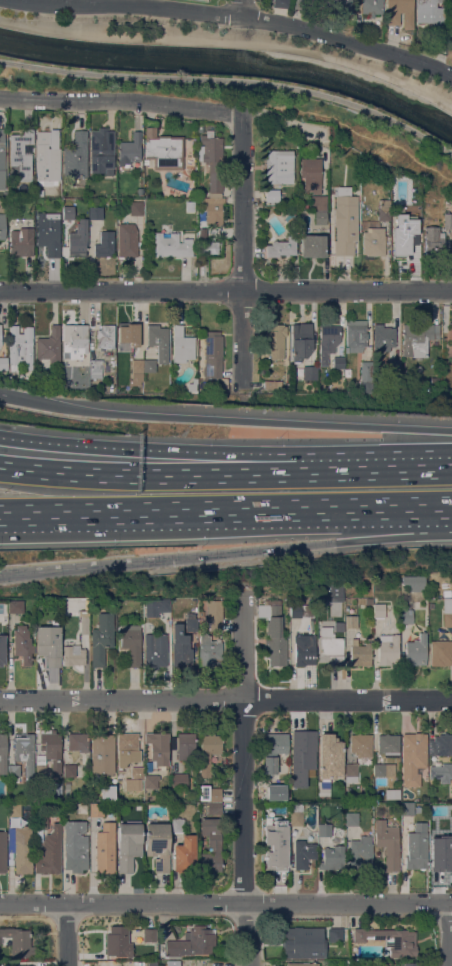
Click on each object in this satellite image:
building: (312, 0)
building: (279, 3)
building: (300, 4)
building: (339, 5)
building: (368, 6)
road: (241, 7)
building: (429, 11)
building: (400, 12)
road: (238, 14)
road: (261, 31)
building: (450, 34)
road: (231, 41)
river: (232, 60)
road: (232, 79)
road: (121, 99)
road: (349, 124)
building: (200, 128)
park: (357, 137)
building: (101, 149)
building: (130, 149)
building: (163, 149)
building: (2, 150)
building: (22, 155)
building: (76, 156)
building: (212, 157)
building: (45, 158)
building: (189, 159)
building: (279, 166)
building: (311, 174)
building: (96, 178)
building: (140, 191)
building: (93, 193)
building: (113, 193)
building: (200, 194)
building: (272, 195)
building: (58, 201)
building: (319, 202)
building: (190, 206)
building: (211, 208)
building: (95, 212)
building: (396, 214)
building: (289, 217)
building: (320, 217)
building: (345, 220)
building: (447, 220)
building: (67, 221)
building: (2, 226)
building: (130, 231)
building: (48, 233)
building: (402, 239)
building: (433, 240)
building: (22, 241)
building: (374, 241)
building: (78, 243)
building: (105, 244)
building: (171, 245)
building: (312, 245)
building: (209, 246)
building: (282, 246)
road: (241, 250)
road: (225, 289)
building: (0, 334)
building: (129, 334)
building: (356, 335)
building: (105, 336)
building: (383, 337)
building: (418, 338)
building: (328, 339)
building: (75, 341)
building: (158, 341)
building: (275, 341)
building: (301, 341)
building: (182, 345)
building: (21, 348)
building: (49, 348)
building: (213, 354)
building: (338, 362)
building: (3, 363)
building: (149, 365)
building: (95, 368)
building: (348, 371)
building: (136, 372)
building: (310, 372)
building: (394, 375)
building: (366, 377)
building: (193, 383)
building: (270, 384)
road: (3, 393)
road: (228, 418)
road: (147, 453)
road: (373, 468)
road: (146, 475)
road: (225, 512)
road: (393, 538)
road: (253, 550)
road: (86, 565)
building: (415, 582)
building: (446, 592)
building: (364, 600)
building: (431, 605)
building: (15, 606)
building: (156, 606)
building: (295, 610)
building: (379, 610)
building: (338, 611)
building: (447, 612)
building: (201, 613)
building: (405, 613)
building: (214, 614)
building: (14, 618)
building: (351, 621)
building: (52, 622)
building: (191, 622)
building: (84, 623)
building: (274, 631)
building: (102, 638)
building: (132, 643)
building: (22, 644)
building: (48, 644)
building: (331, 645)
building: (181, 647)
building: (2, 648)
building: (388, 649)
building: (155, 650)
building: (209, 650)
building: (304, 650)
building: (415, 650)
building: (440, 652)
building: (360, 653)
building: (73, 655)
road: (226, 698)
building: (78, 741)
building: (305, 741)
building: (127, 744)
building: (361, 744)
building: (389, 744)
building: (441, 744)
building: (185, 745)
building: (24, 748)
building: (157, 749)
building: (274, 750)
building: (208, 751)
building: (102, 753)
building: (3, 754)
building: (330, 756)
building: (48, 757)
building: (413, 757)
building: (383, 769)
building: (13, 770)
building: (69, 770)
building: (351, 772)
building: (441, 772)
building: (137, 776)
building: (309, 776)
building: (180, 779)
building: (151, 780)
road: (242, 782)
building: (274, 788)
building: (107, 793)
building: (393, 793)
building: (214, 794)
building: (199, 807)
building: (214, 808)
building: (14, 809)
building: (96, 809)
building: (406, 809)
building: (296, 814)
building: (271, 815)
building: (351, 819)
building: (41, 822)
building: (177, 825)
building: (323, 830)
building: (434, 830)
building: (9, 838)
building: (212, 841)
building: (387, 843)
building: (128, 844)
building: (158, 845)
building: (75, 846)
building: (105, 847)
building: (417, 847)
building: (23, 850)
building: (2, 851)
building: (50, 852)
building: (358, 852)
building: (303, 853)
building: (184, 854)
building: (275, 854)
building: (332, 857)
building: (443, 861)
road: (226, 903)
road: (65, 934)
road: (447, 934)
building: (149, 935)
building: (389, 939)
building: (346, 940)
building: (118, 941)
building: (311, 941)
building: (19, 942)
building: (192, 942)
building: (173, 963)
building: (301, 964)
building: (412, 964)
building: (21, 965)

